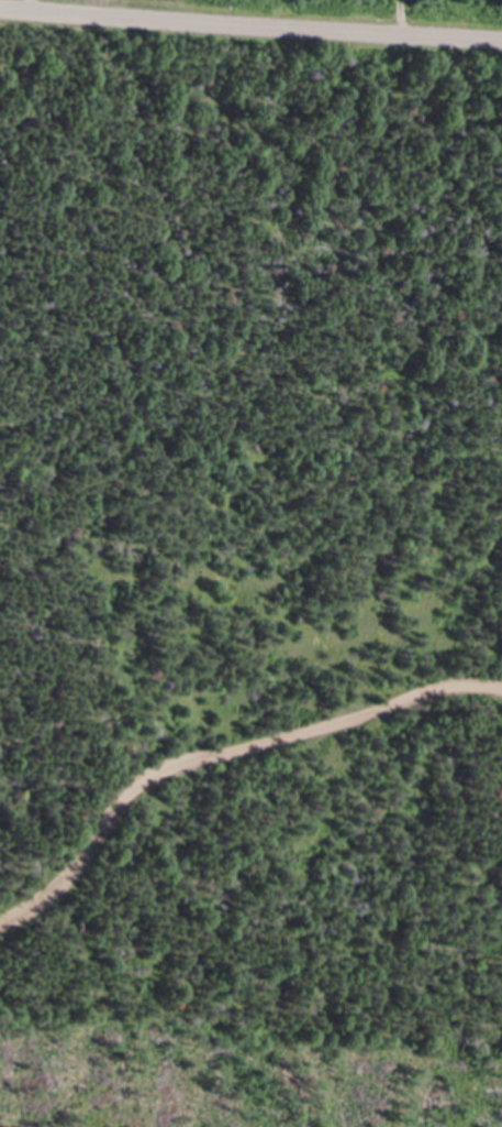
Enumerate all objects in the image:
road: (32, 4)
road: (402, 17)
road: (250, 23)
road: (223, 754)

